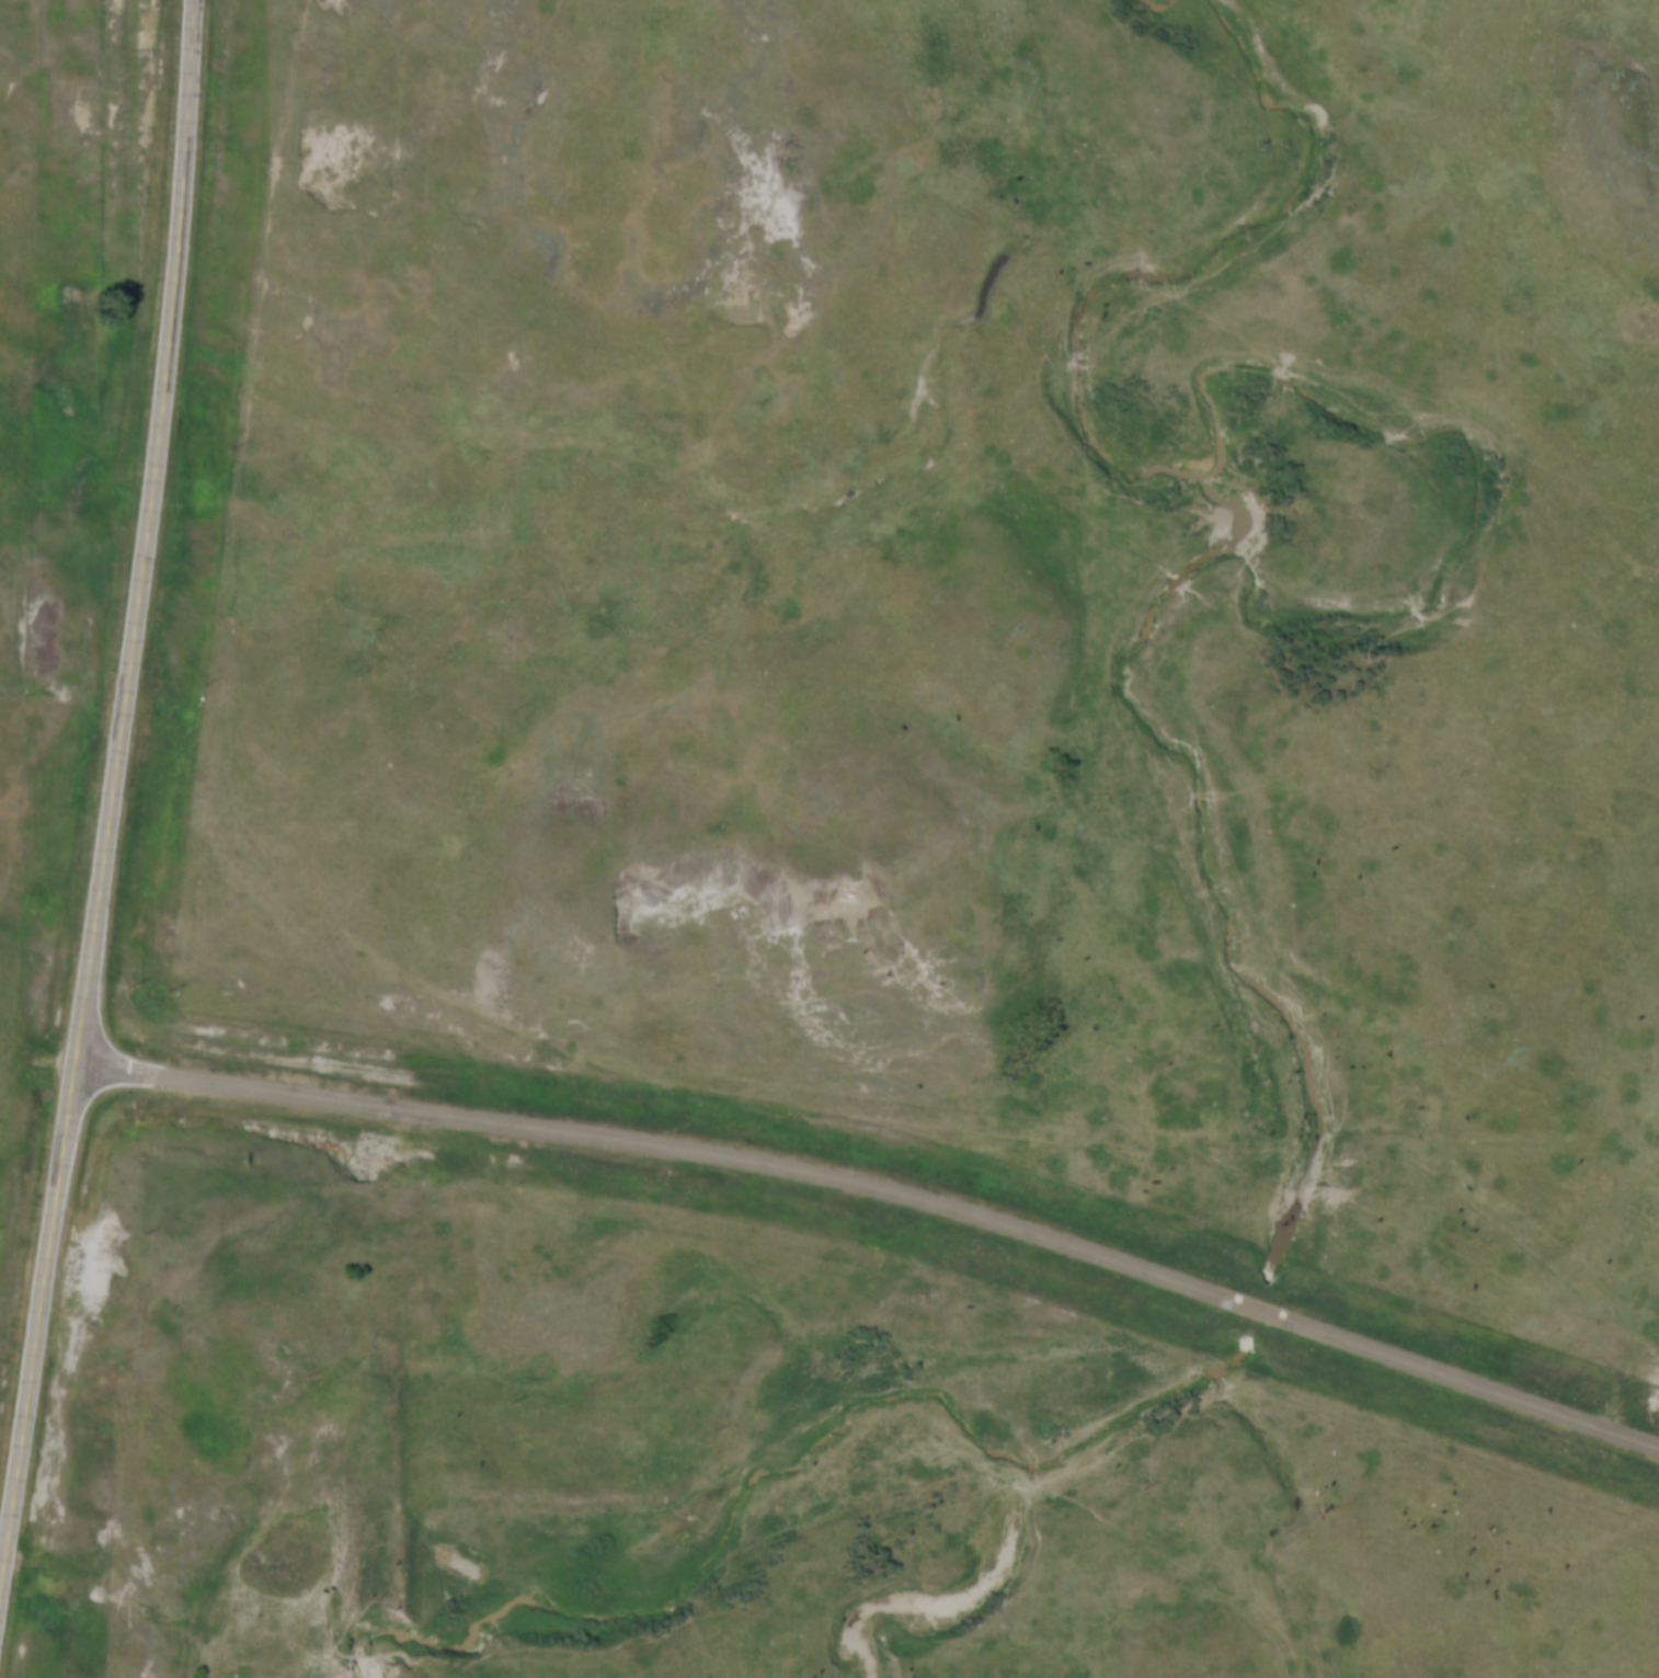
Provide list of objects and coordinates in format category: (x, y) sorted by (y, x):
road: (116, 796)
road: (883, 1191)
road: (1584, 1503)
road: (2, 1555)

